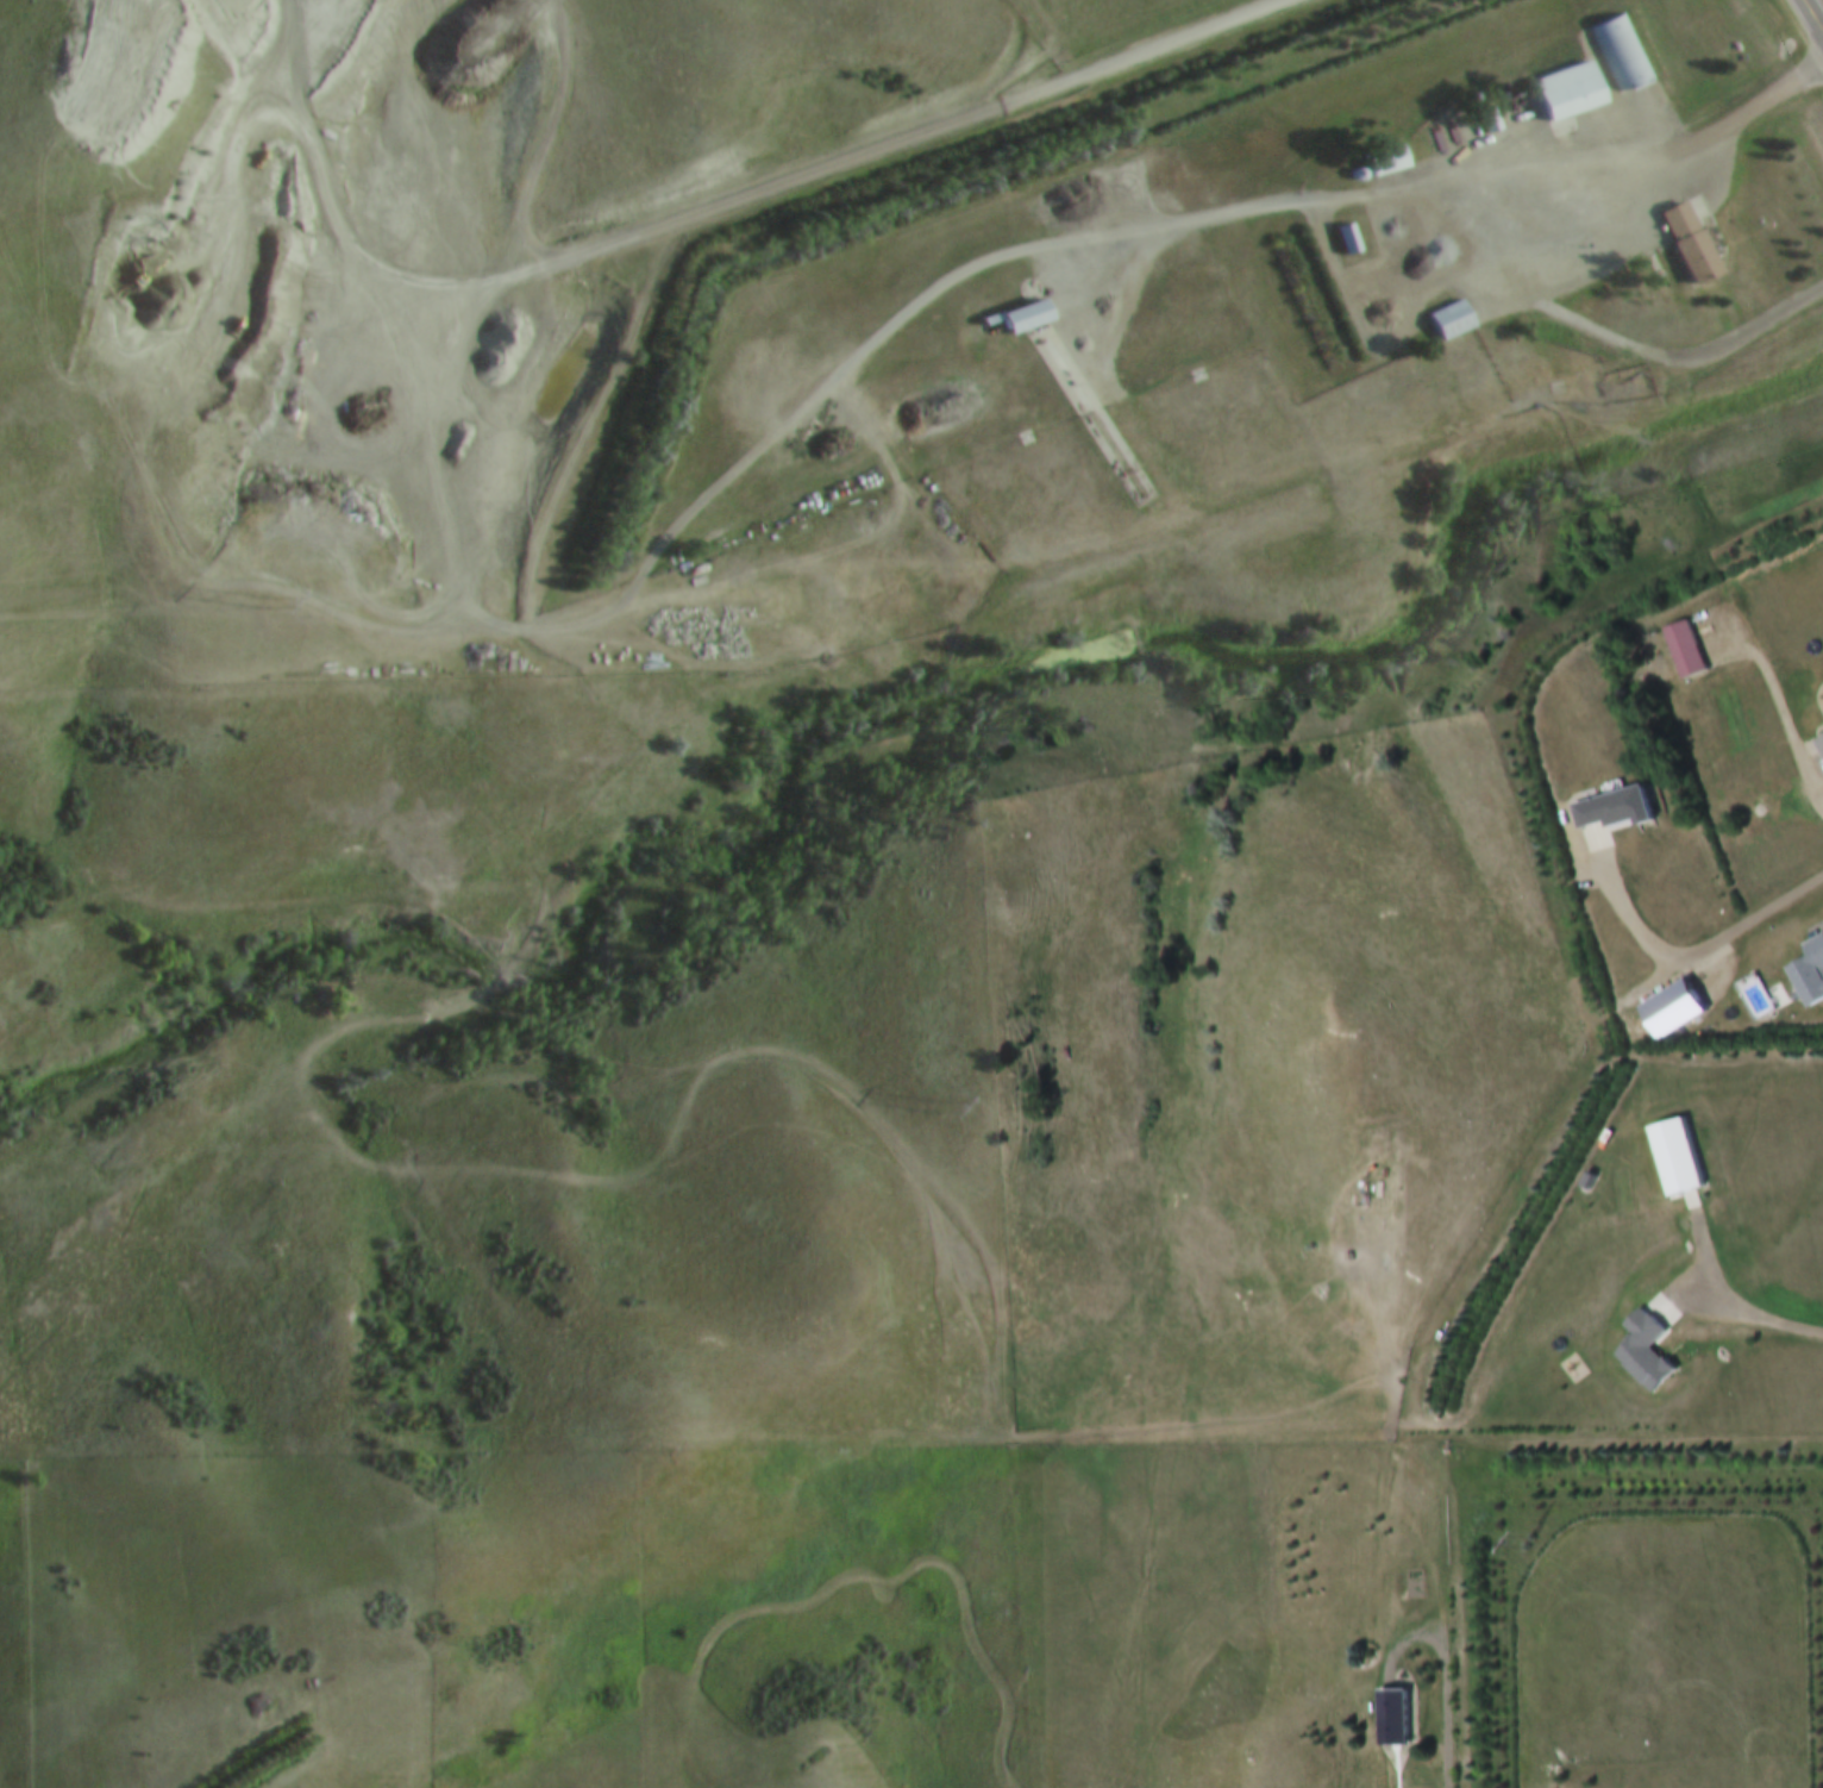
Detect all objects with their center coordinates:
road: (1816, 11)
building: (1620, 54)
building: (1568, 99)
building: (1486, 120)
road: (884, 152)
road: (1439, 175)
building: (1346, 240)
building: (1687, 245)
road: (1528, 299)
quarry: (381, 302)
building: (1023, 319)
building: (1449, 321)
road: (1675, 352)
road: (645, 567)
power tower: (272, 602)
building: (1683, 651)
road: (1778, 713)
building: (1821, 745)
building: (1611, 811)
road: (1728, 938)
building: (1810, 976)
building: (1672, 1012)
power tower: (950, 1108)
building: (1677, 1161)
road: (1735, 1309)
building: (1643, 1353)
power tower: (1533, 1544)

